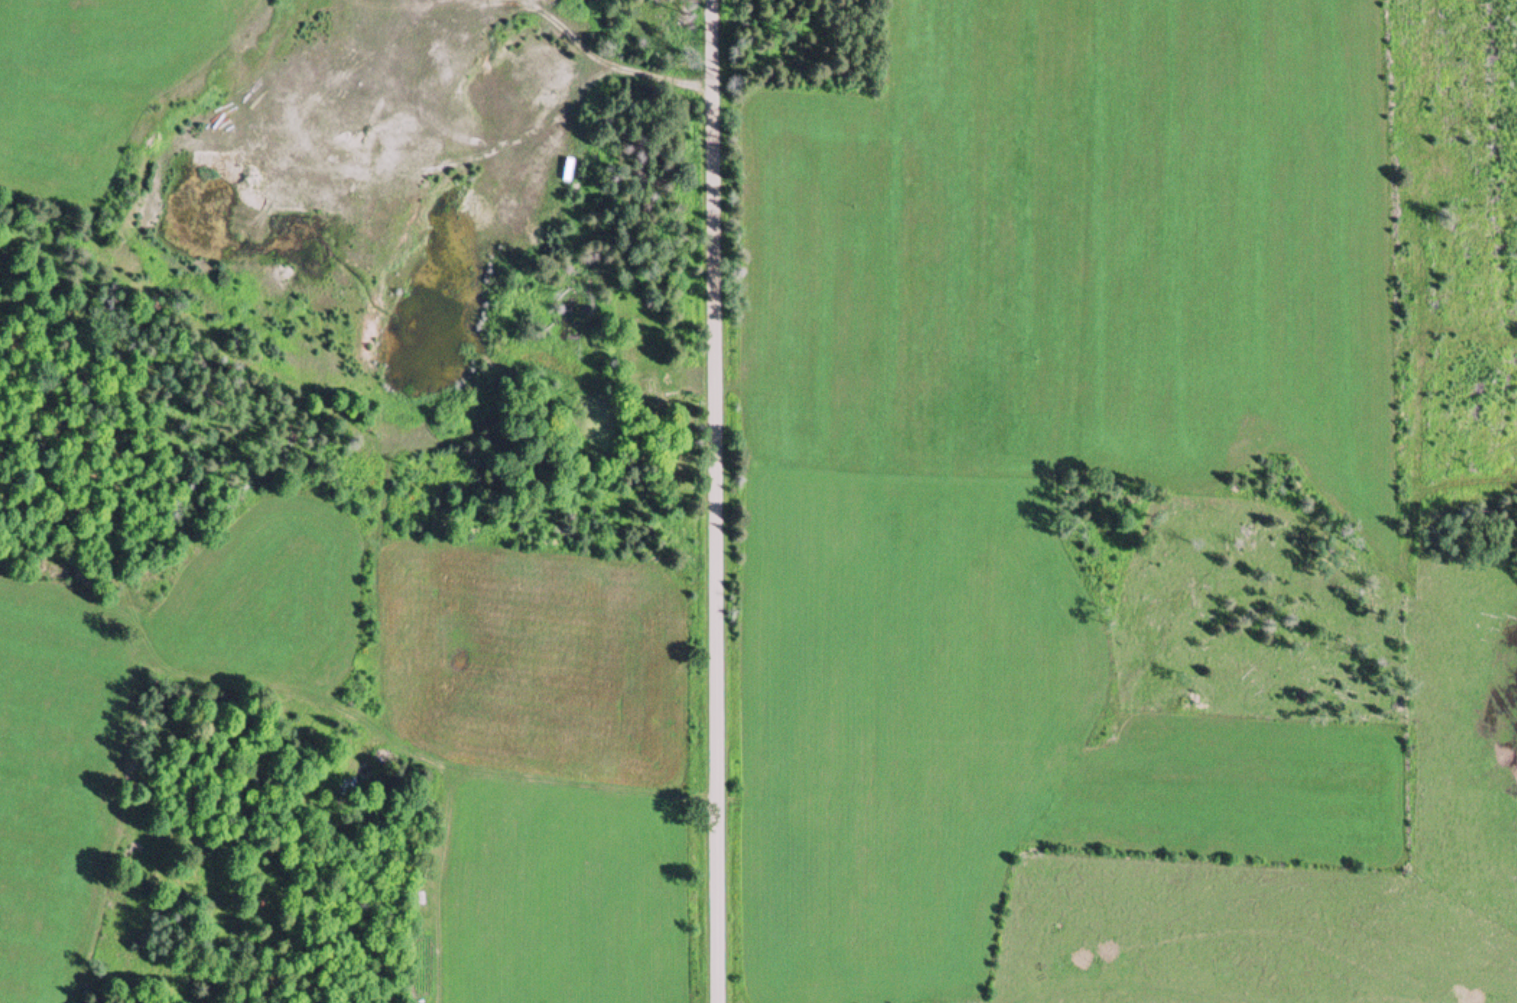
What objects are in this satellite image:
road: (717, 501)

